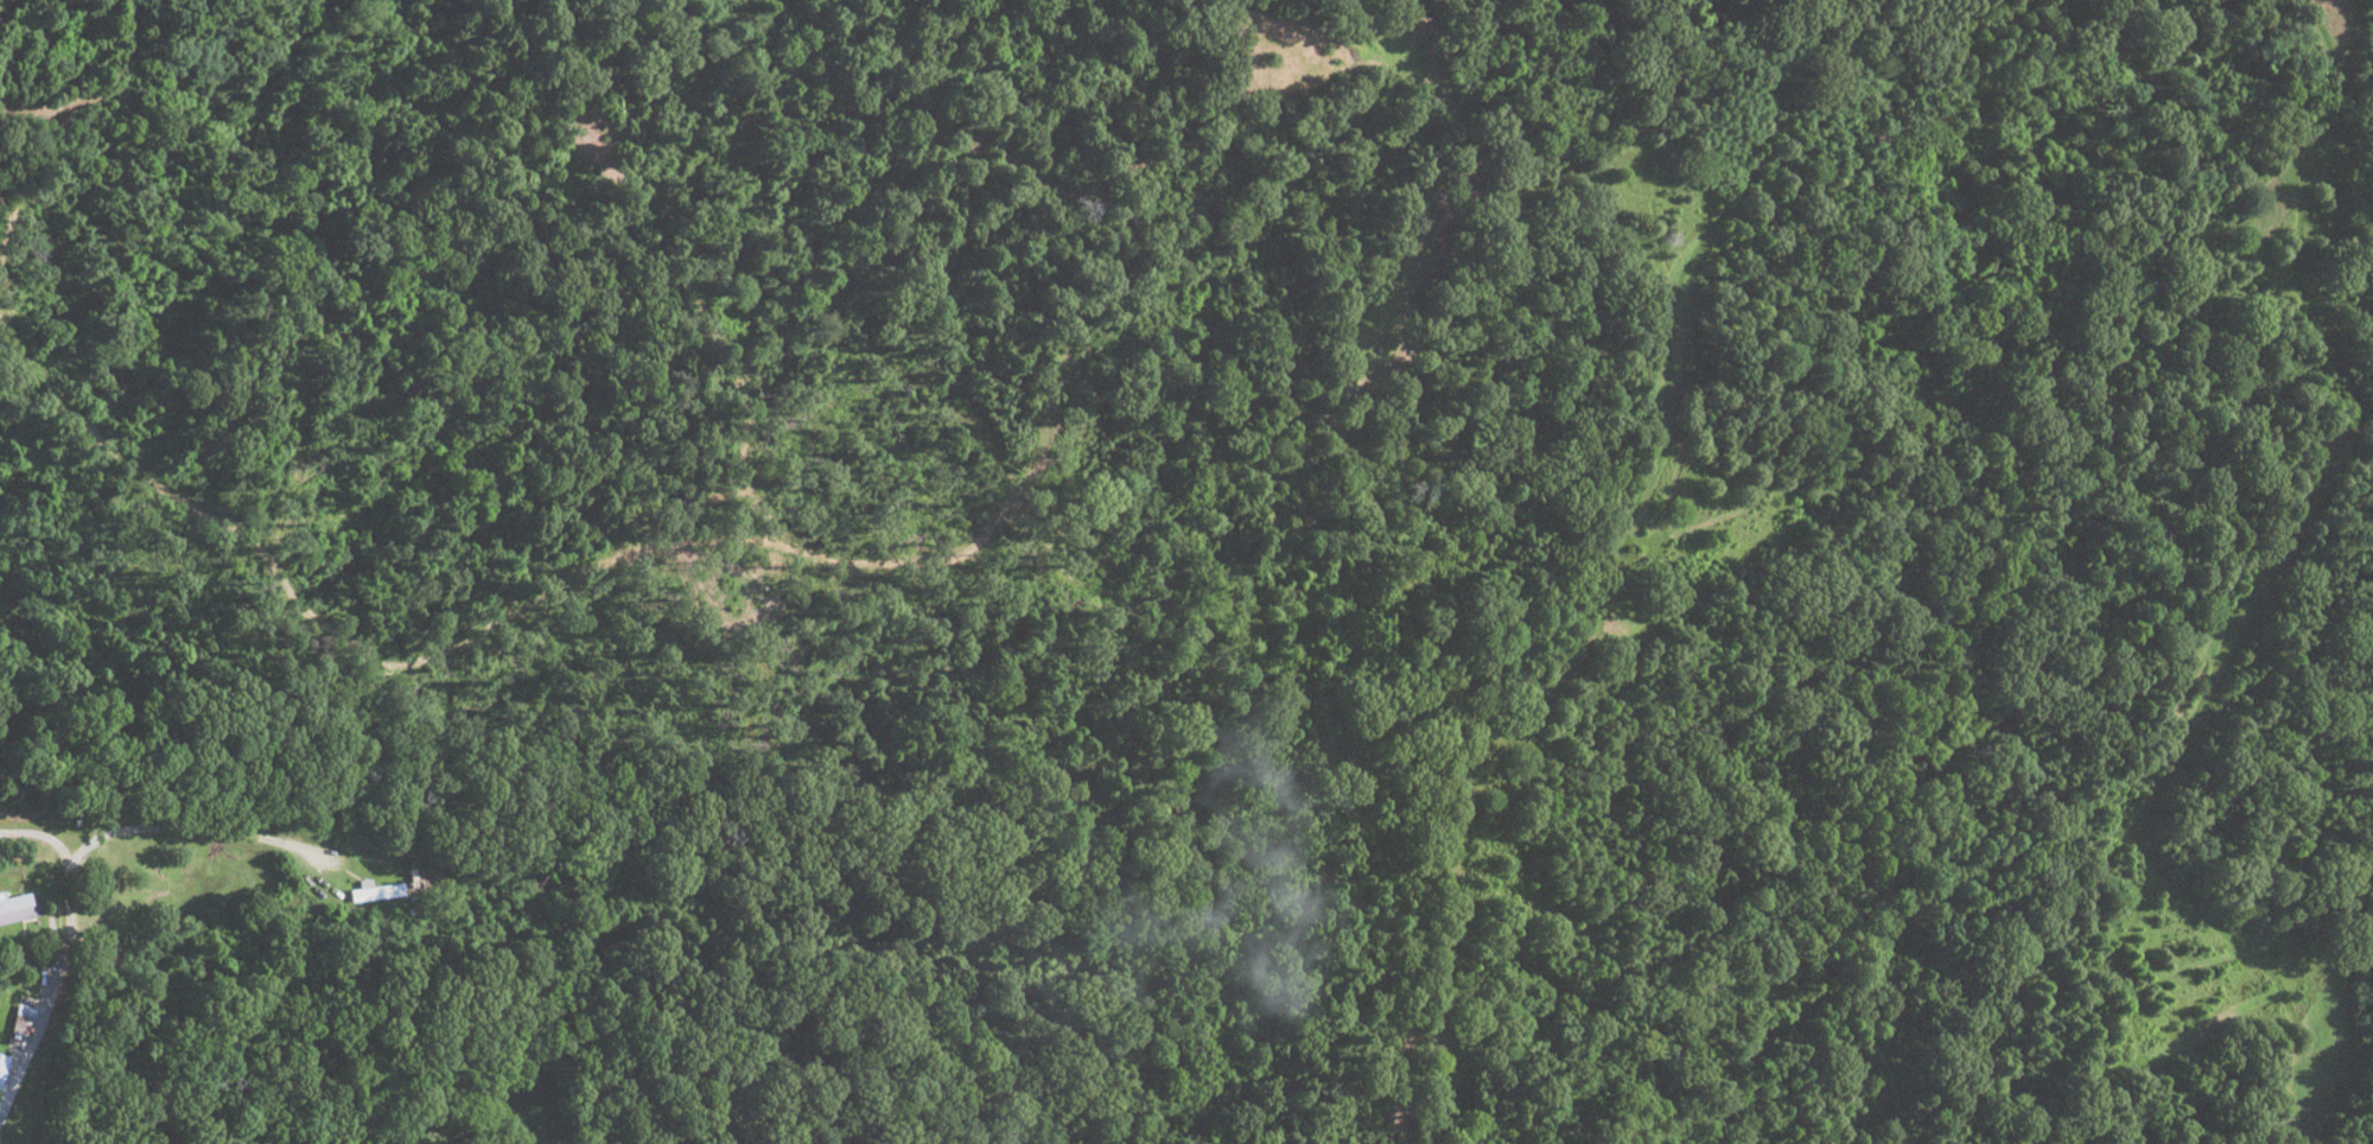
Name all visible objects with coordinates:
building: (376, 892)
building: (13, 909)
building: (1, 1061)

